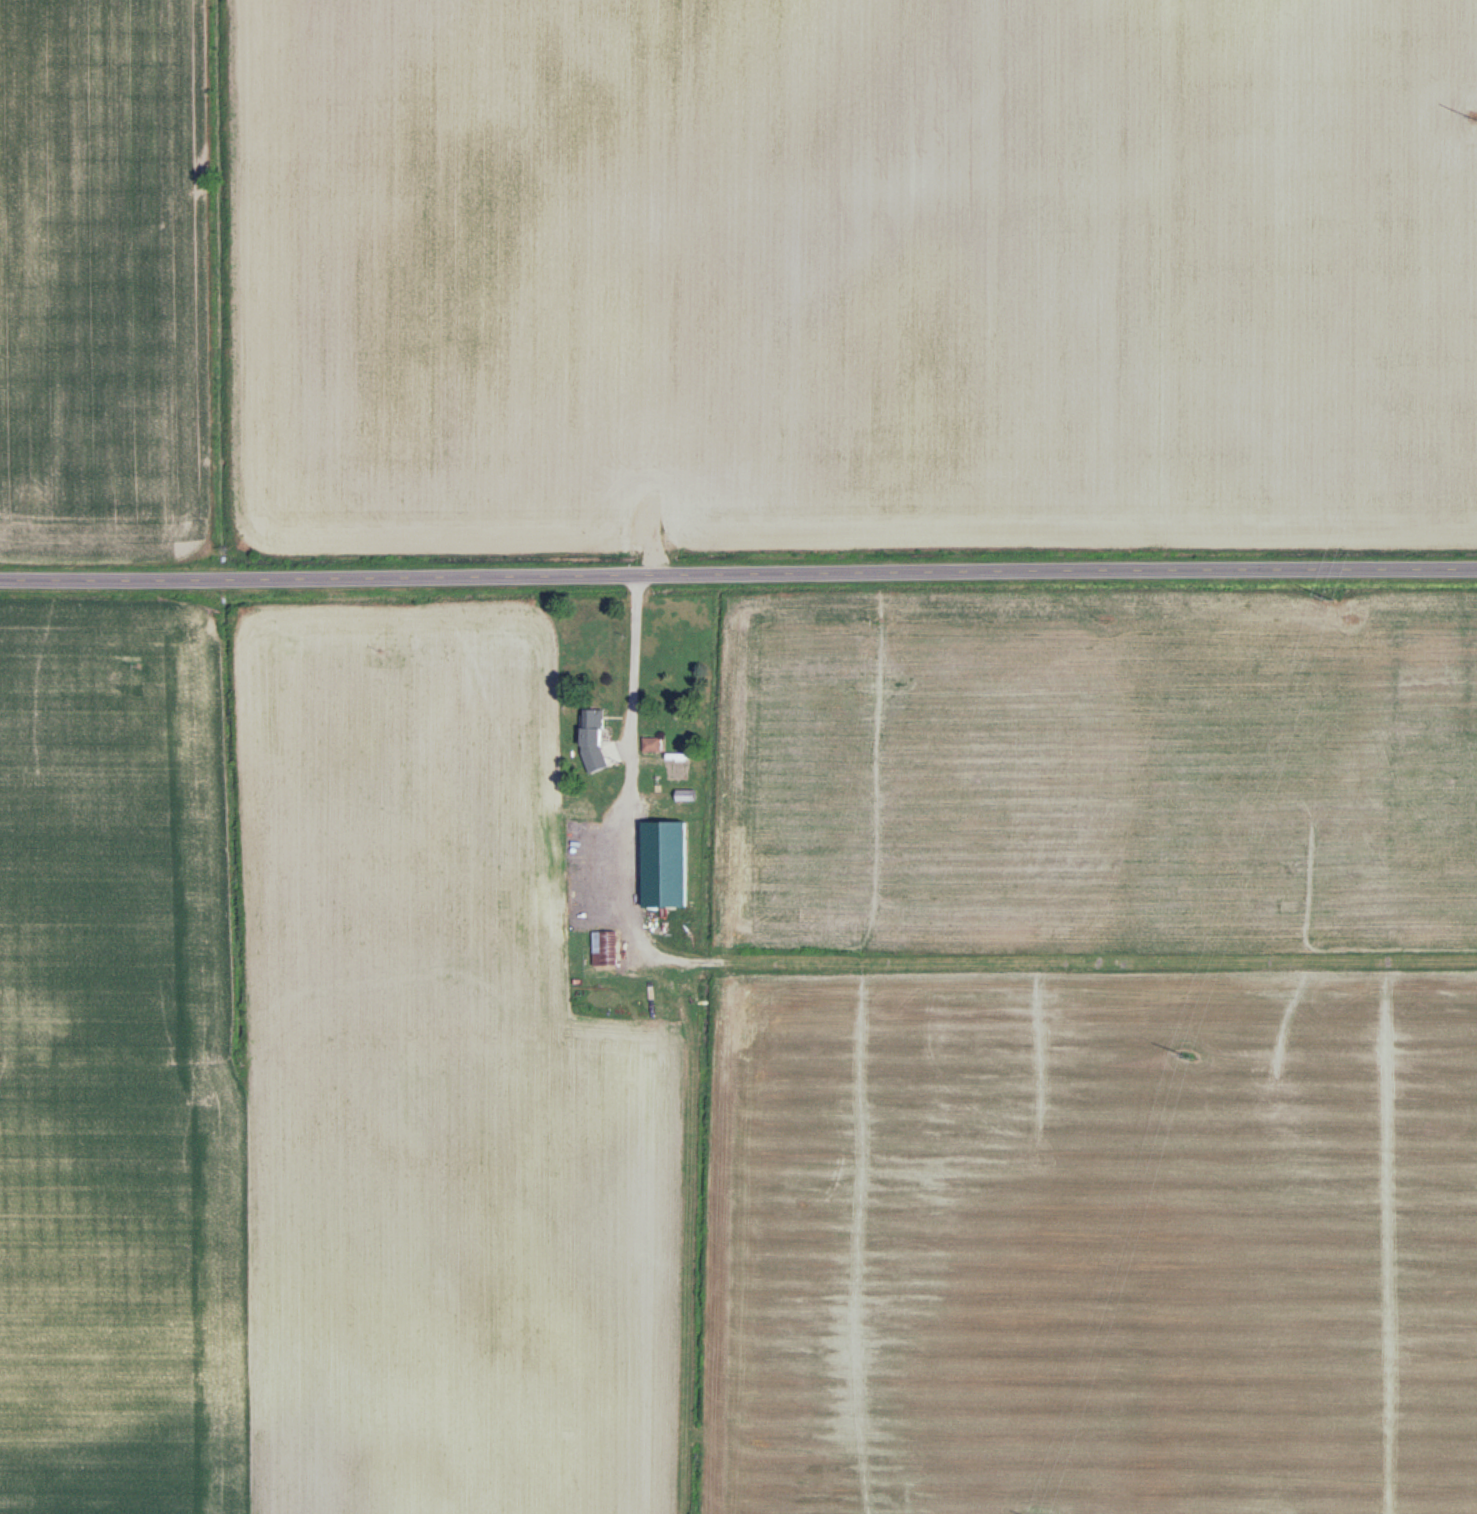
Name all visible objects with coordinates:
power tower: (1476, 119)
road: (738, 575)
power tower: (1327, 596)
road: (633, 691)
building: (591, 728)
building: (651, 745)
building: (684, 796)
building: (576, 804)
building: (646, 834)
building: (632, 858)
building: (592, 921)
building: (607, 950)
power tower: (1188, 1057)

